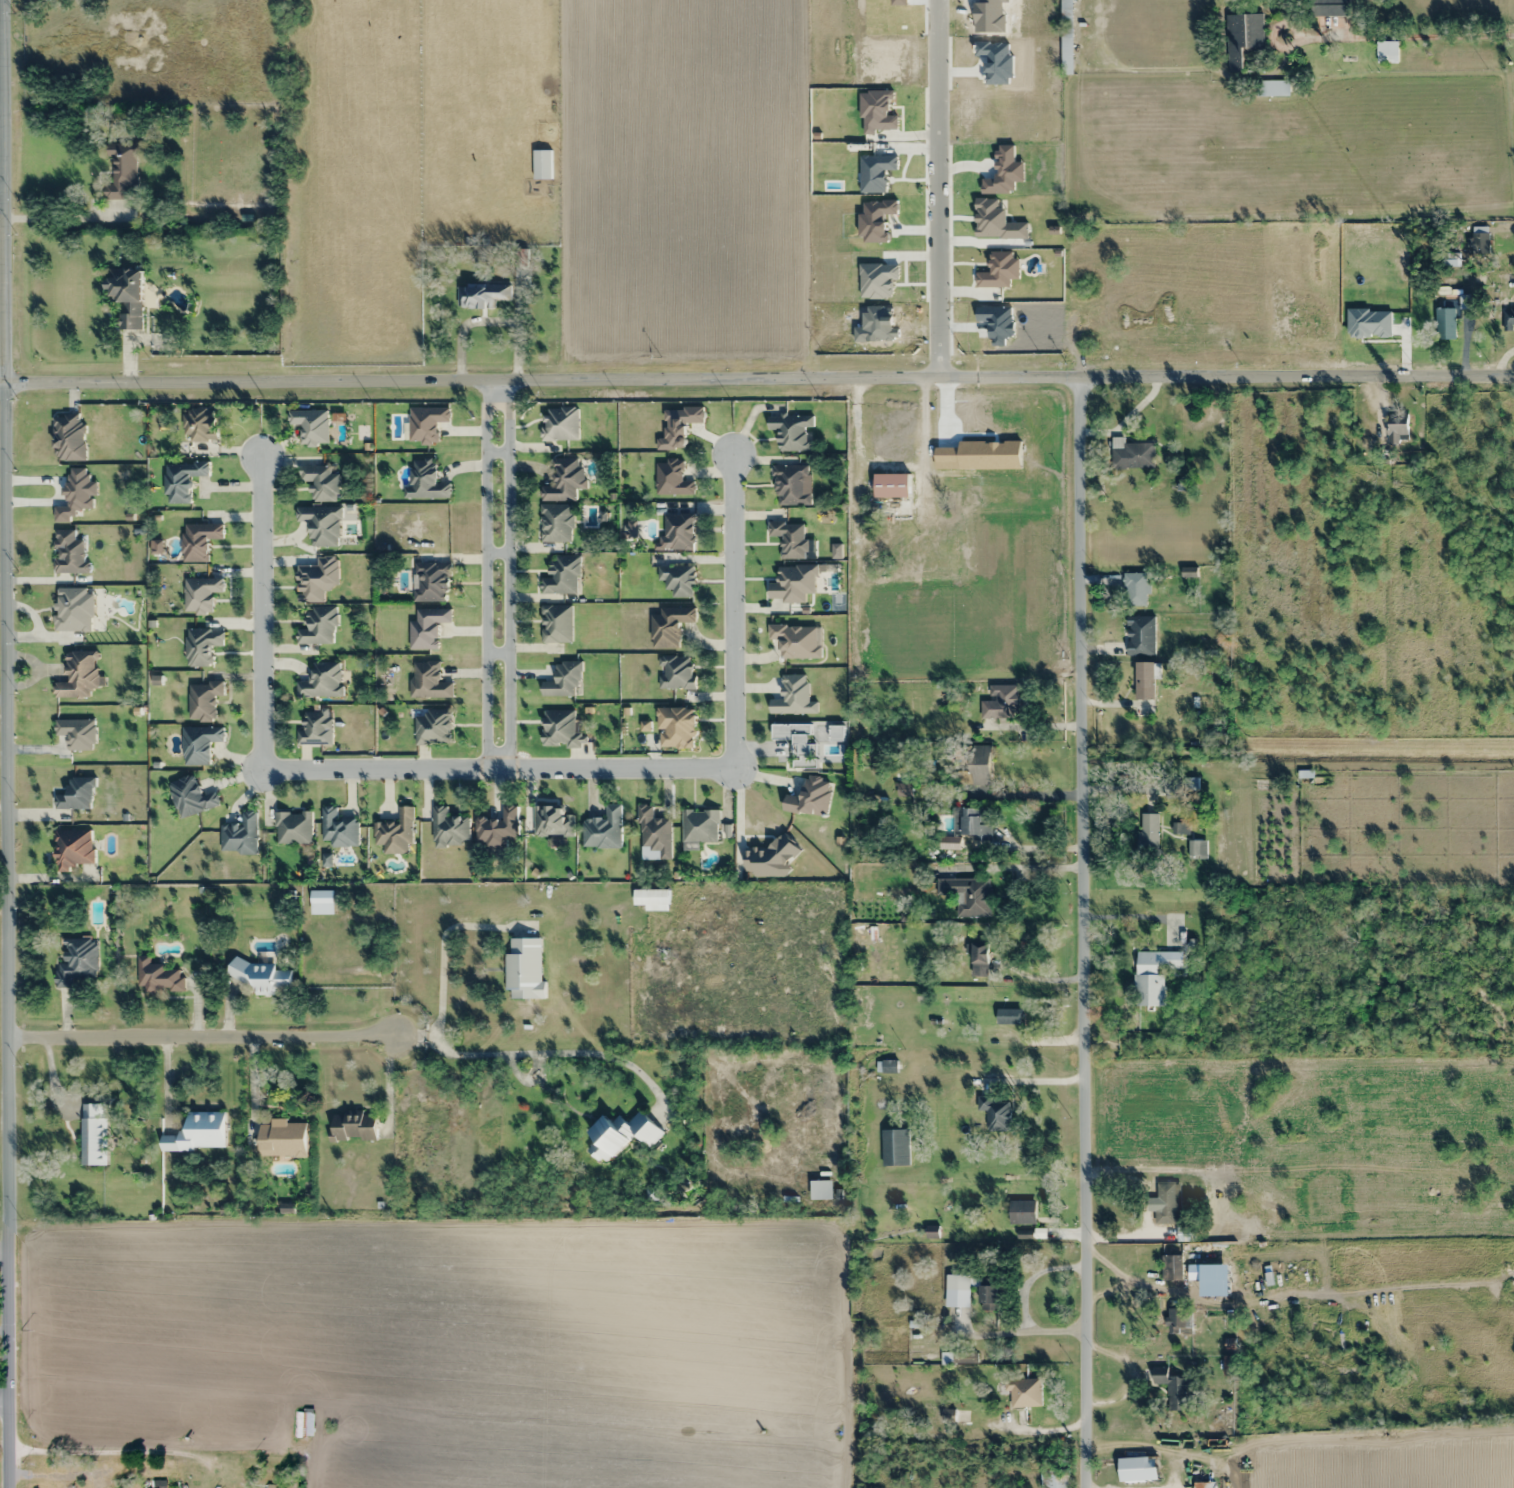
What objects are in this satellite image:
building: (1329, 7)
building: (1067, 31)
building: (1242, 38)
building: (1386, 48)
building: (1272, 88)
building: (1210, 148)
building: (542, 164)
building: (119, 171)
crop: (811, 180)
road: (939, 189)
building: (1480, 239)
building: (481, 295)
building: (126, 296)
building: (1508, 319)
building: (1446, 323)
road: (757, 379)
building: (560, 423)
building: (199, 425)
building: (311, 425)
building: (1397, 426)
building: (792, 431)
building: (69, 437)
building: (1132, 454)
building: (671, 478)
building: (182, 480)
building: (564, 480)
building: (321, 481)
building: (426, 481)
building: (791, 485)
building: (903, 506)
building: (555, 522)
building: (321, 524)
building: (936, 525)
building: (678, 531)
building: (790, 539)
building: (69, 553)
building: (562, 575)
building: (677, 580)
building: (430, 581)
building: (1136, 589)
building: (200, 594)
road: (734, 611)
road: (260, 615)
building: (556, 623)
building: (318, 626)
building: (669, 626)
building: (427, 628)
building: (1140, 635)
building: (796, 641)
building: (202, 646)
building: (676, 672)
building: (80, 675)
building: (564, 680)
building: (1144, 680)
building: (322, 681)
building: (428, 681)
building: (793, 697)
building: (203, 700)
building: (1000, 703)
building: (433, 727)
building: (676, 728)
building: (315, 729)
building: (561, 729)
road: (3, 744)
building: (199, 744)
building: (971, 764)
road: (497, 769)
road: (498, 769)
building: (77, 794)
building: (191, 797)
building: (552, 822)
building: (699, 826)
building: (293, 827)
building: (338, 828)
building: (449, 828)
building: (969, 828)
building: (498, 829)
building: (603, 829)
building: (396, 833)
building: (654, 833)
building: (240, 835)
building: (1148, 836)
building: (73, 849)
building: (968, 895)
building: (661, 903)
road: (1085, 933)
building: (979, 959)
building: (77, 961)
building: (524, 970)
building: (1153, 975)
building: (261, 976)
building: (158, 977)
building: (1009, 1017)
road: (199, 1033)
building: (886, 1066)
building: (995, 1113)
building: (353, 1127)
building: (198, 1132)
building: (93, 1133)
building: (621, 1134)
building: (282, 1138)
building: (895, 1147)
building: (821, 1189)
building: (1167, 1202)
building: (1022, 1211)
building: (1186, 1234)
building: (1172, 1264)
building: (1200, 1271)
building: (978, 1288)
building: (1182, 1321)
building: (1173, 1386)
building: (1021, 1394)
road: (3, 1400)
building: (301, 1424)
building: (1138, 1469)
building: (1060, 1479)
building: (1205, 1484)
building: (268, 1486)

